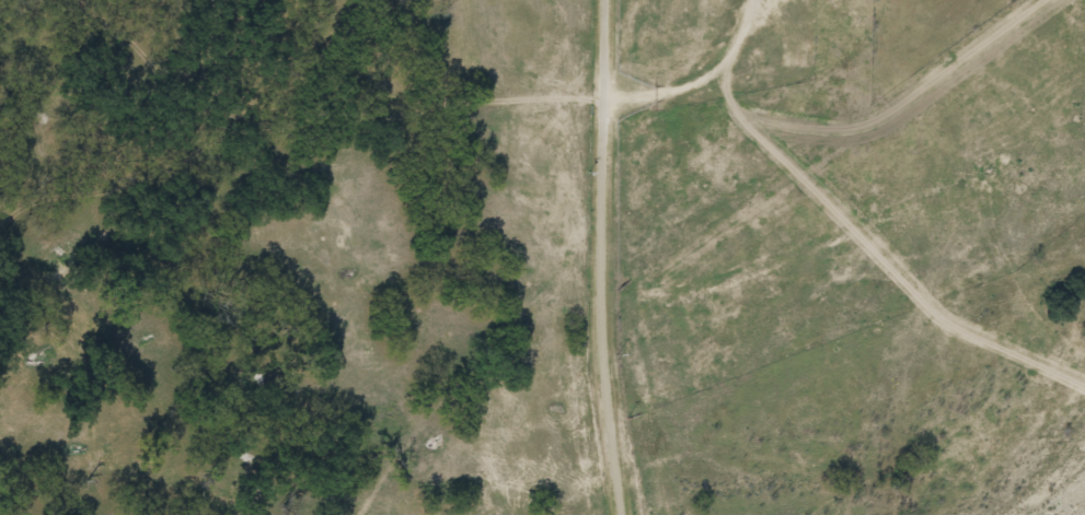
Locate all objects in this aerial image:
railway: (591, 257)
road: (605, 257)

